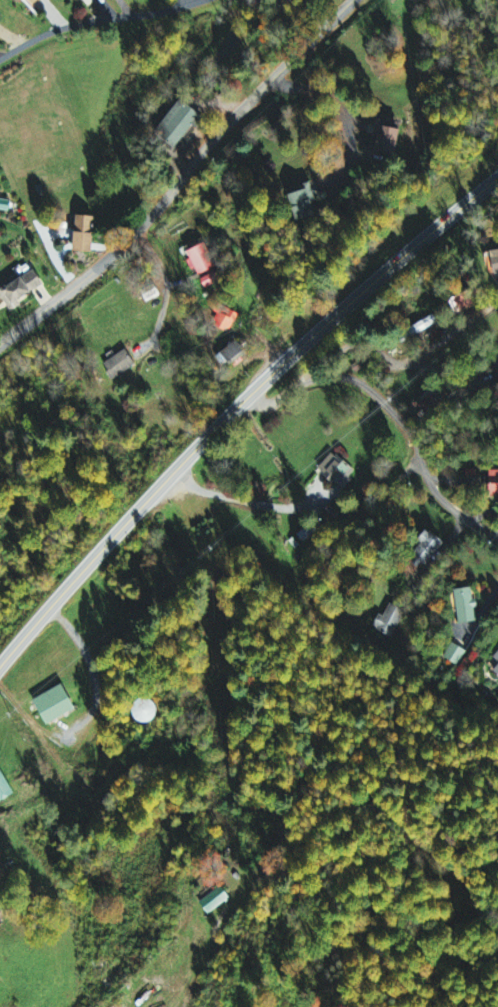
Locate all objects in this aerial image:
building: (21, 1)
building: (36, 2)
road: (69, 22)
road: (328, 95)
building: (180, 124)
building: (391, 138)
road: (186, 171)
building: (5, 203)
building: (305, 205)
building: (87, 235)
building: (200, 261)
building: (496, 261)
building: (20, 289)
building: (226, 319)
building: (235, 352)
building: (121, 365)
road: (375, 366)
road: (236, 414)
road: (344, 440)
building: (338, 471)
building: (494, 482)
building: (427, 547)
road: (489, 569)
building: (467, 607)
building: (390, 621)
building: (456, 654)
building: (497, 659)
building: (497, 671)
building: (57, 704)
building: (145, 711)
building: (5, 788)
building: (216, 901)

